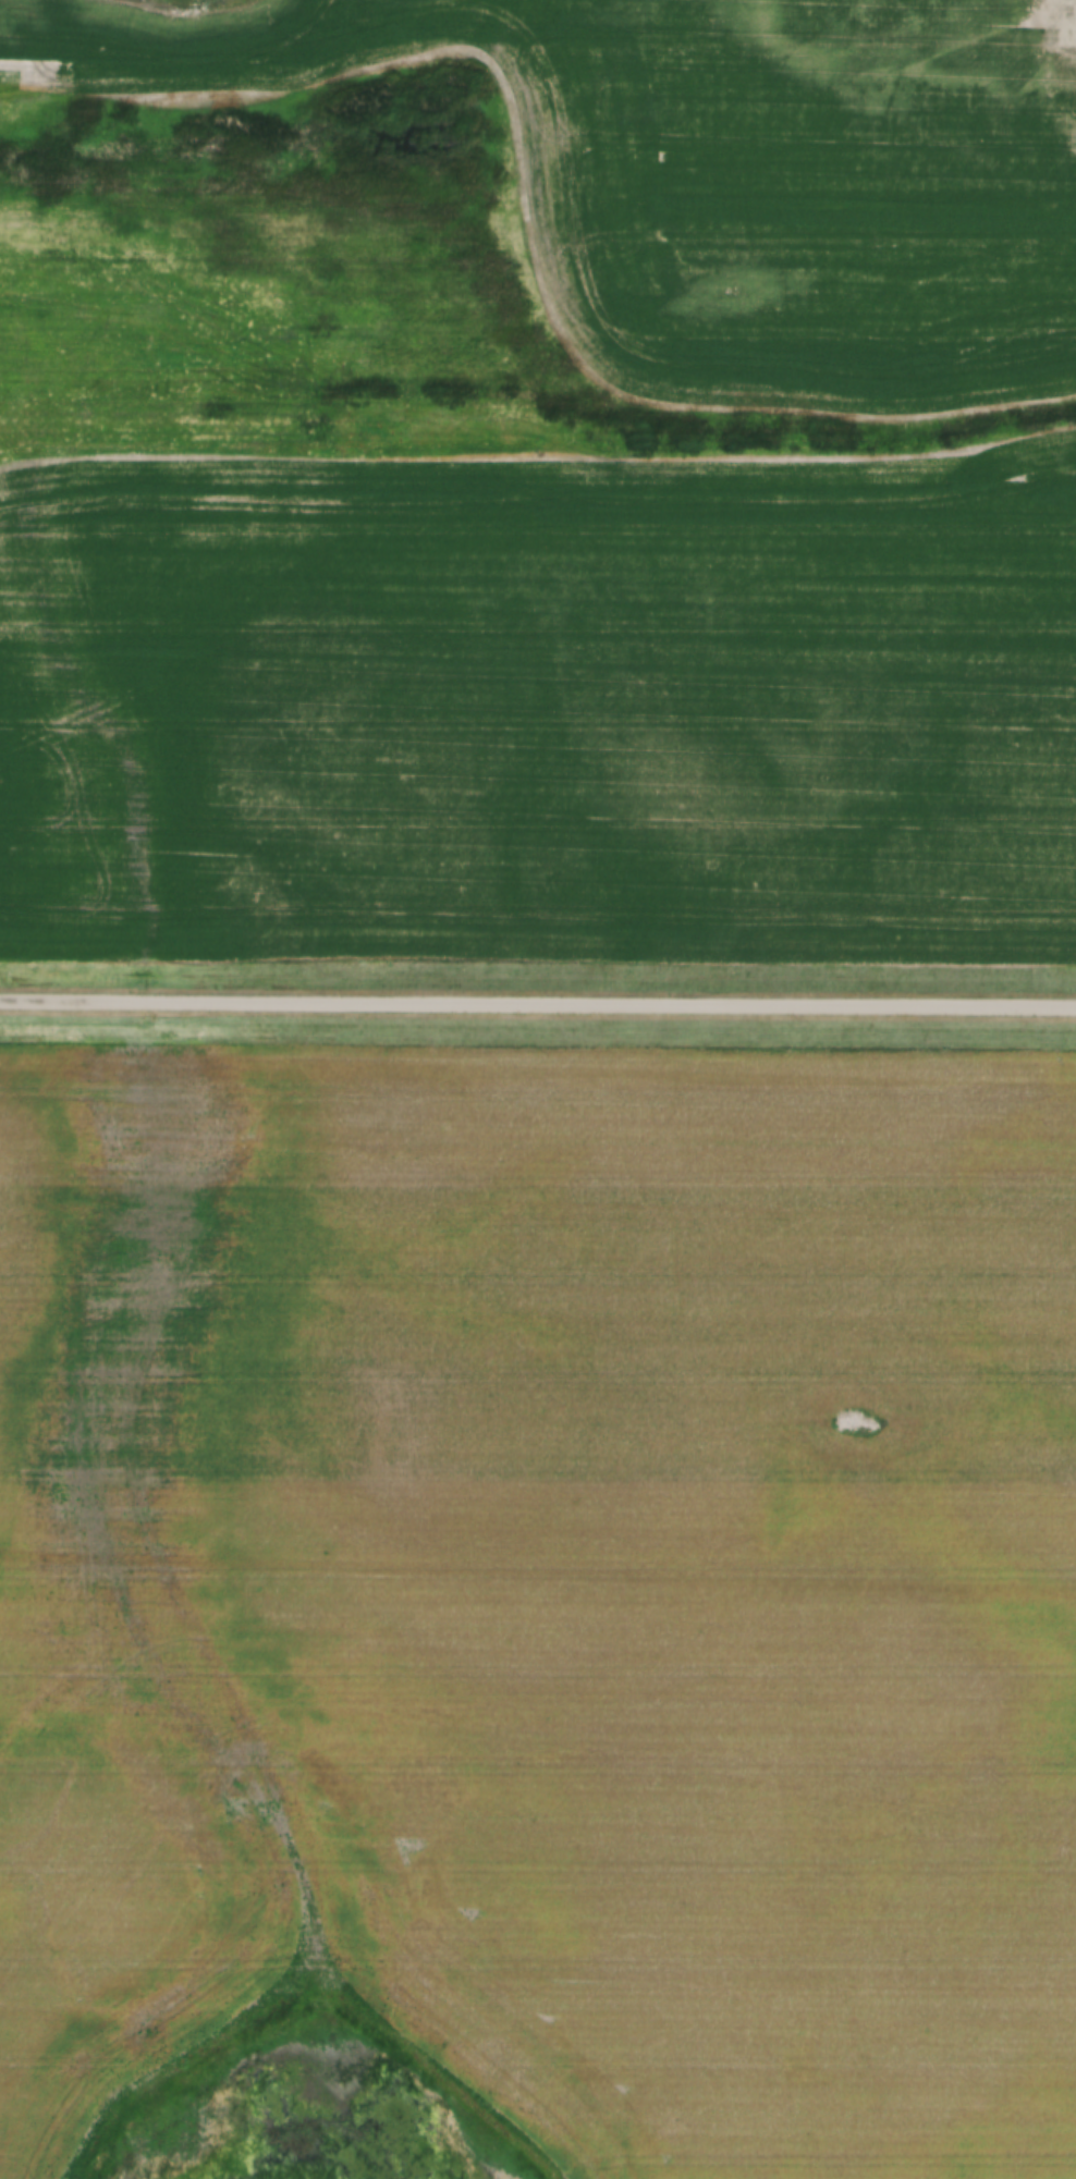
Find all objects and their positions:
road: (537, 1004)

